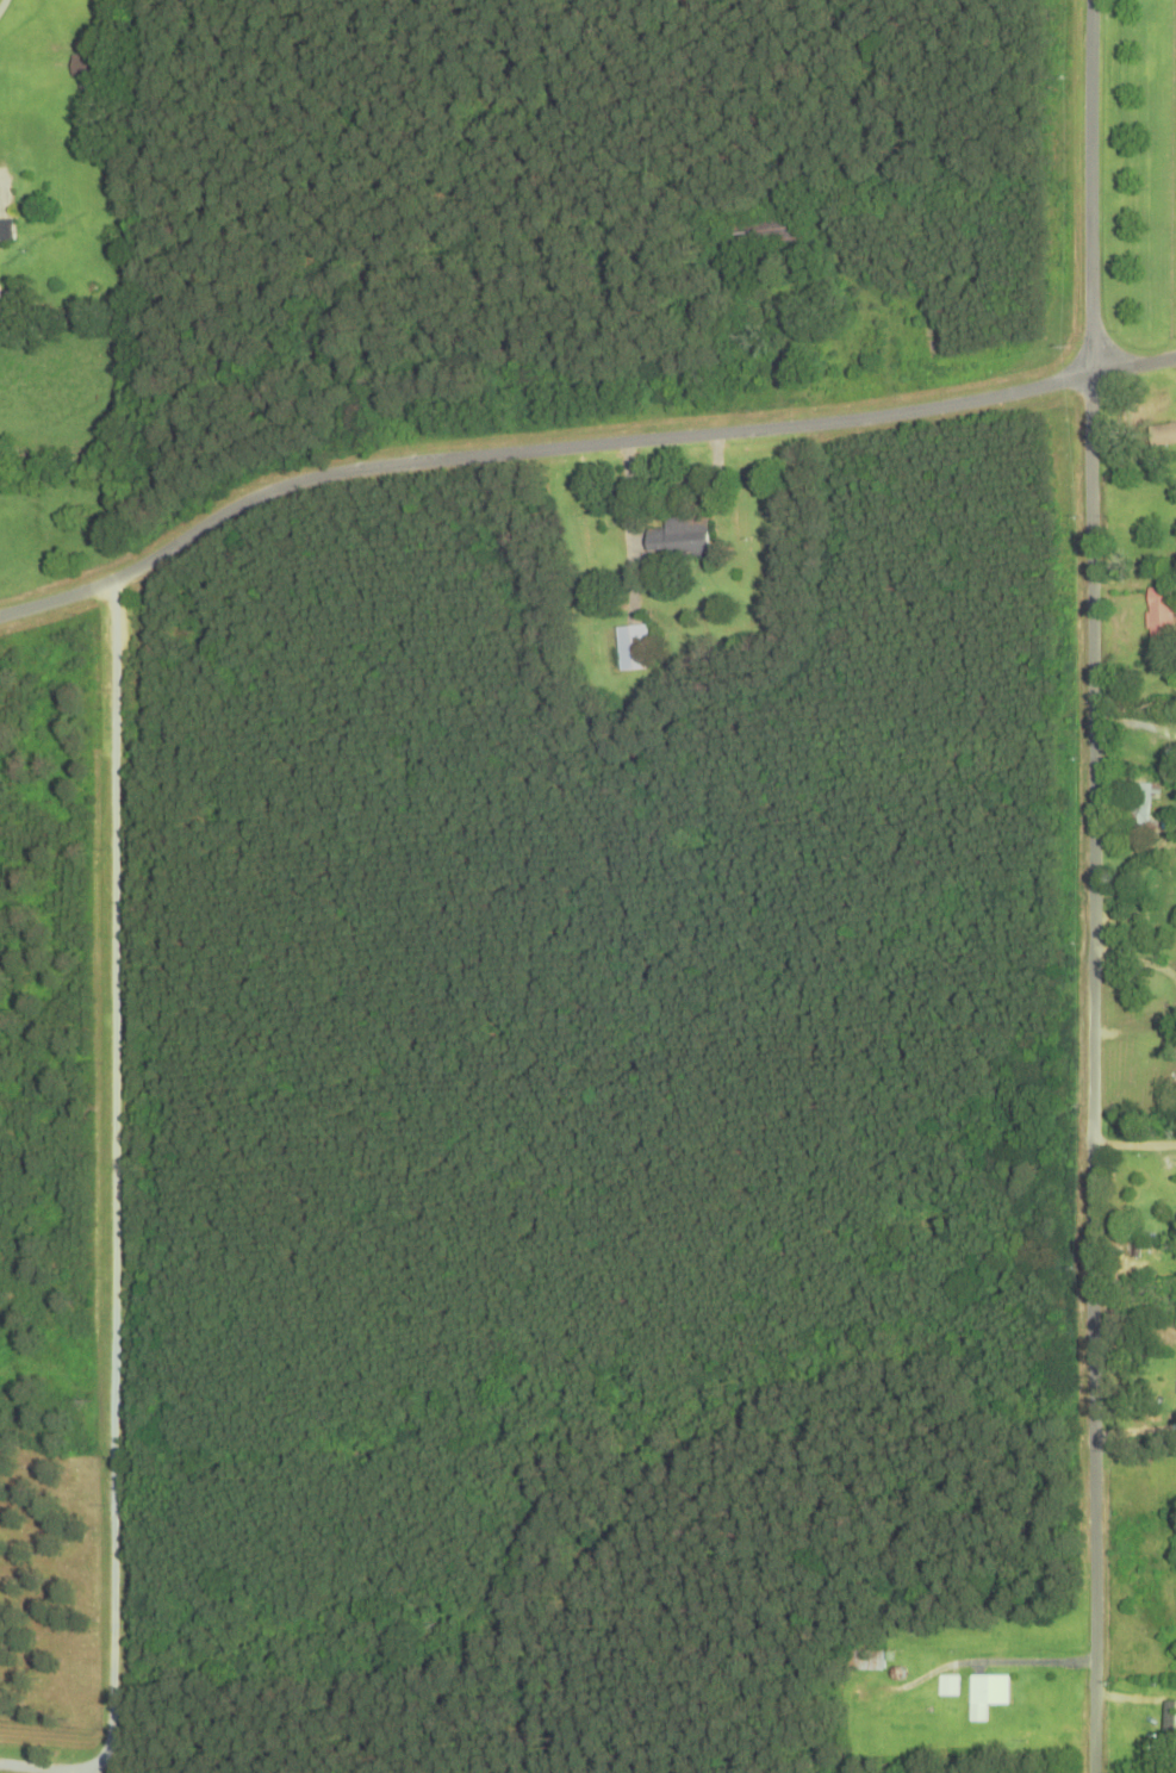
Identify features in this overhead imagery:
building: (83, 67)
building: (6, 231)
building: (764, 234)
building: (1162, 436)
road: (574, 449)
building: (680, 537)
building: (1159, 611)
building: (631, 648)
building: (1138, 730)
building: (1139, 808)
road: (1093, 885)
building: (1175, 1106)
building: (864, 1661)
building: (948, 1686)
building: (987, 1696)
building: (1169, 1718)

